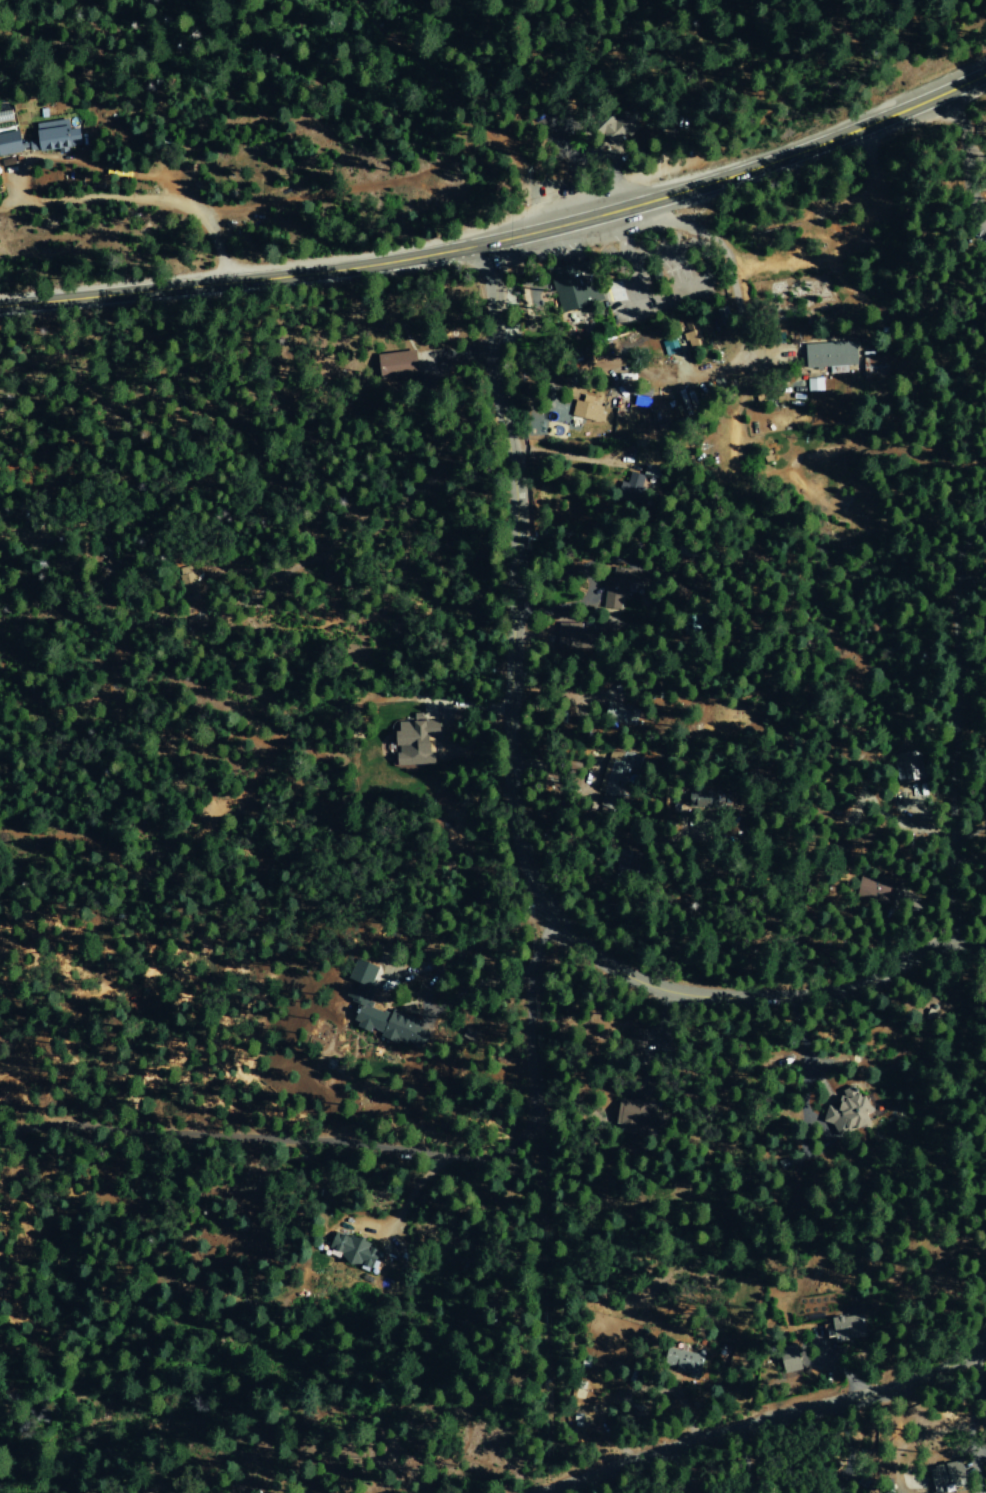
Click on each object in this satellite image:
road: (113, 13)
road: (612, 54)
road: (827, 63)
road: (439, 72)
road: (753, 105)
building: (615, 127)
parking lot: (552, 130)
building: (52, 136)
building: (8, 143)
road: (663, 147)
road: (586, 155)
road: (813, 158)
road: (680, 161)
road: (130, 198)
road: (619, 233)
road: (504, 237)
road: (727, 259)
parking lot: (653, 272)
road: (705, 276)
building: (572, 282)
road: (250, 301)
building: (668, 346)
parking lot: (788, 351)
building: (829, 353)
building: (394, 364)
building: (814, 384)
building: (628, 489)
building: (613, 591)
building: (568, 635)
building: (413, 744)
building: (909, 765)
road: (958, 766)
road: (522, 807)
building: (359, 977)
building: (386, 1026)
building: (846, 1112)
road: (387, 1152)
building: (361, 1256)
building: (843, 1328)
building: (680, 1361)
building: (789, 1365)
road: (977, 1379)
road: (773, 1419)

